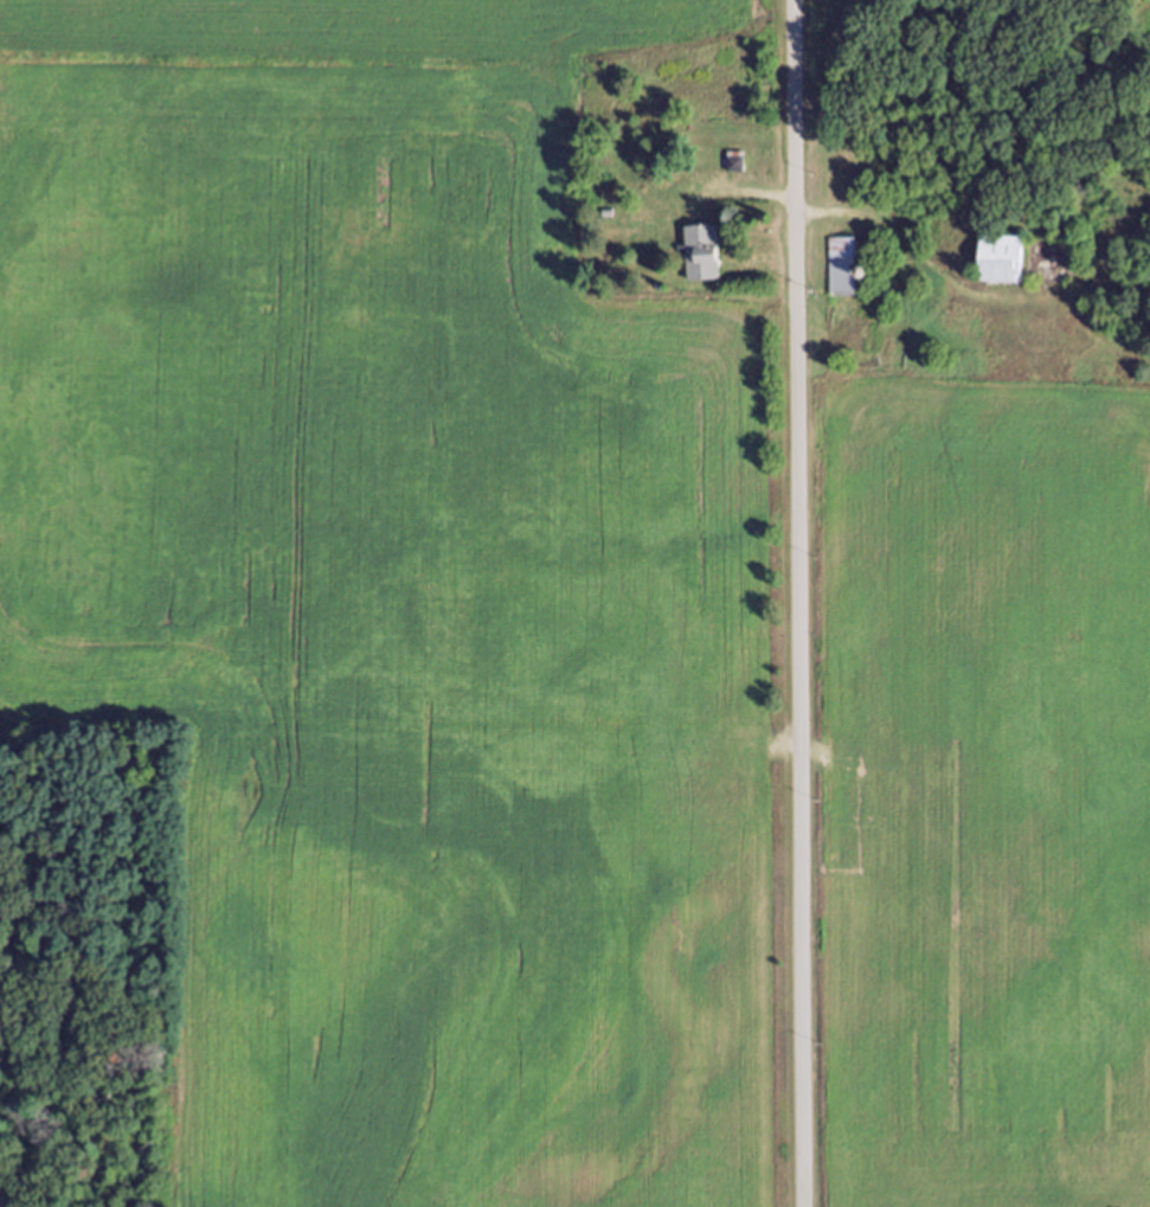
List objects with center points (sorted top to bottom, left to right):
building: (709, 261)
building: (1008, 268)
building: (852, 275)
road: (801, 603)

